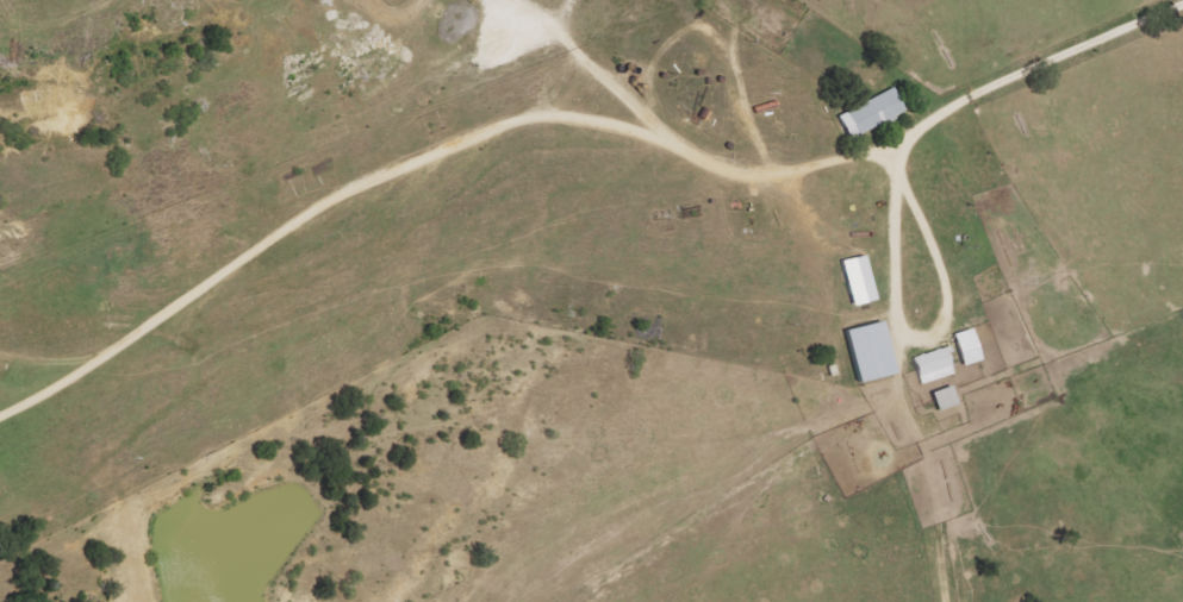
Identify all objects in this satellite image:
building: (868, 113)
road: (829, 163)
road: (316, 209)
building: (855, 280)
road: (910, 333)
building: (966, 347)
building: (866, 352)
building: (933, 365)
building: (942, 399)

